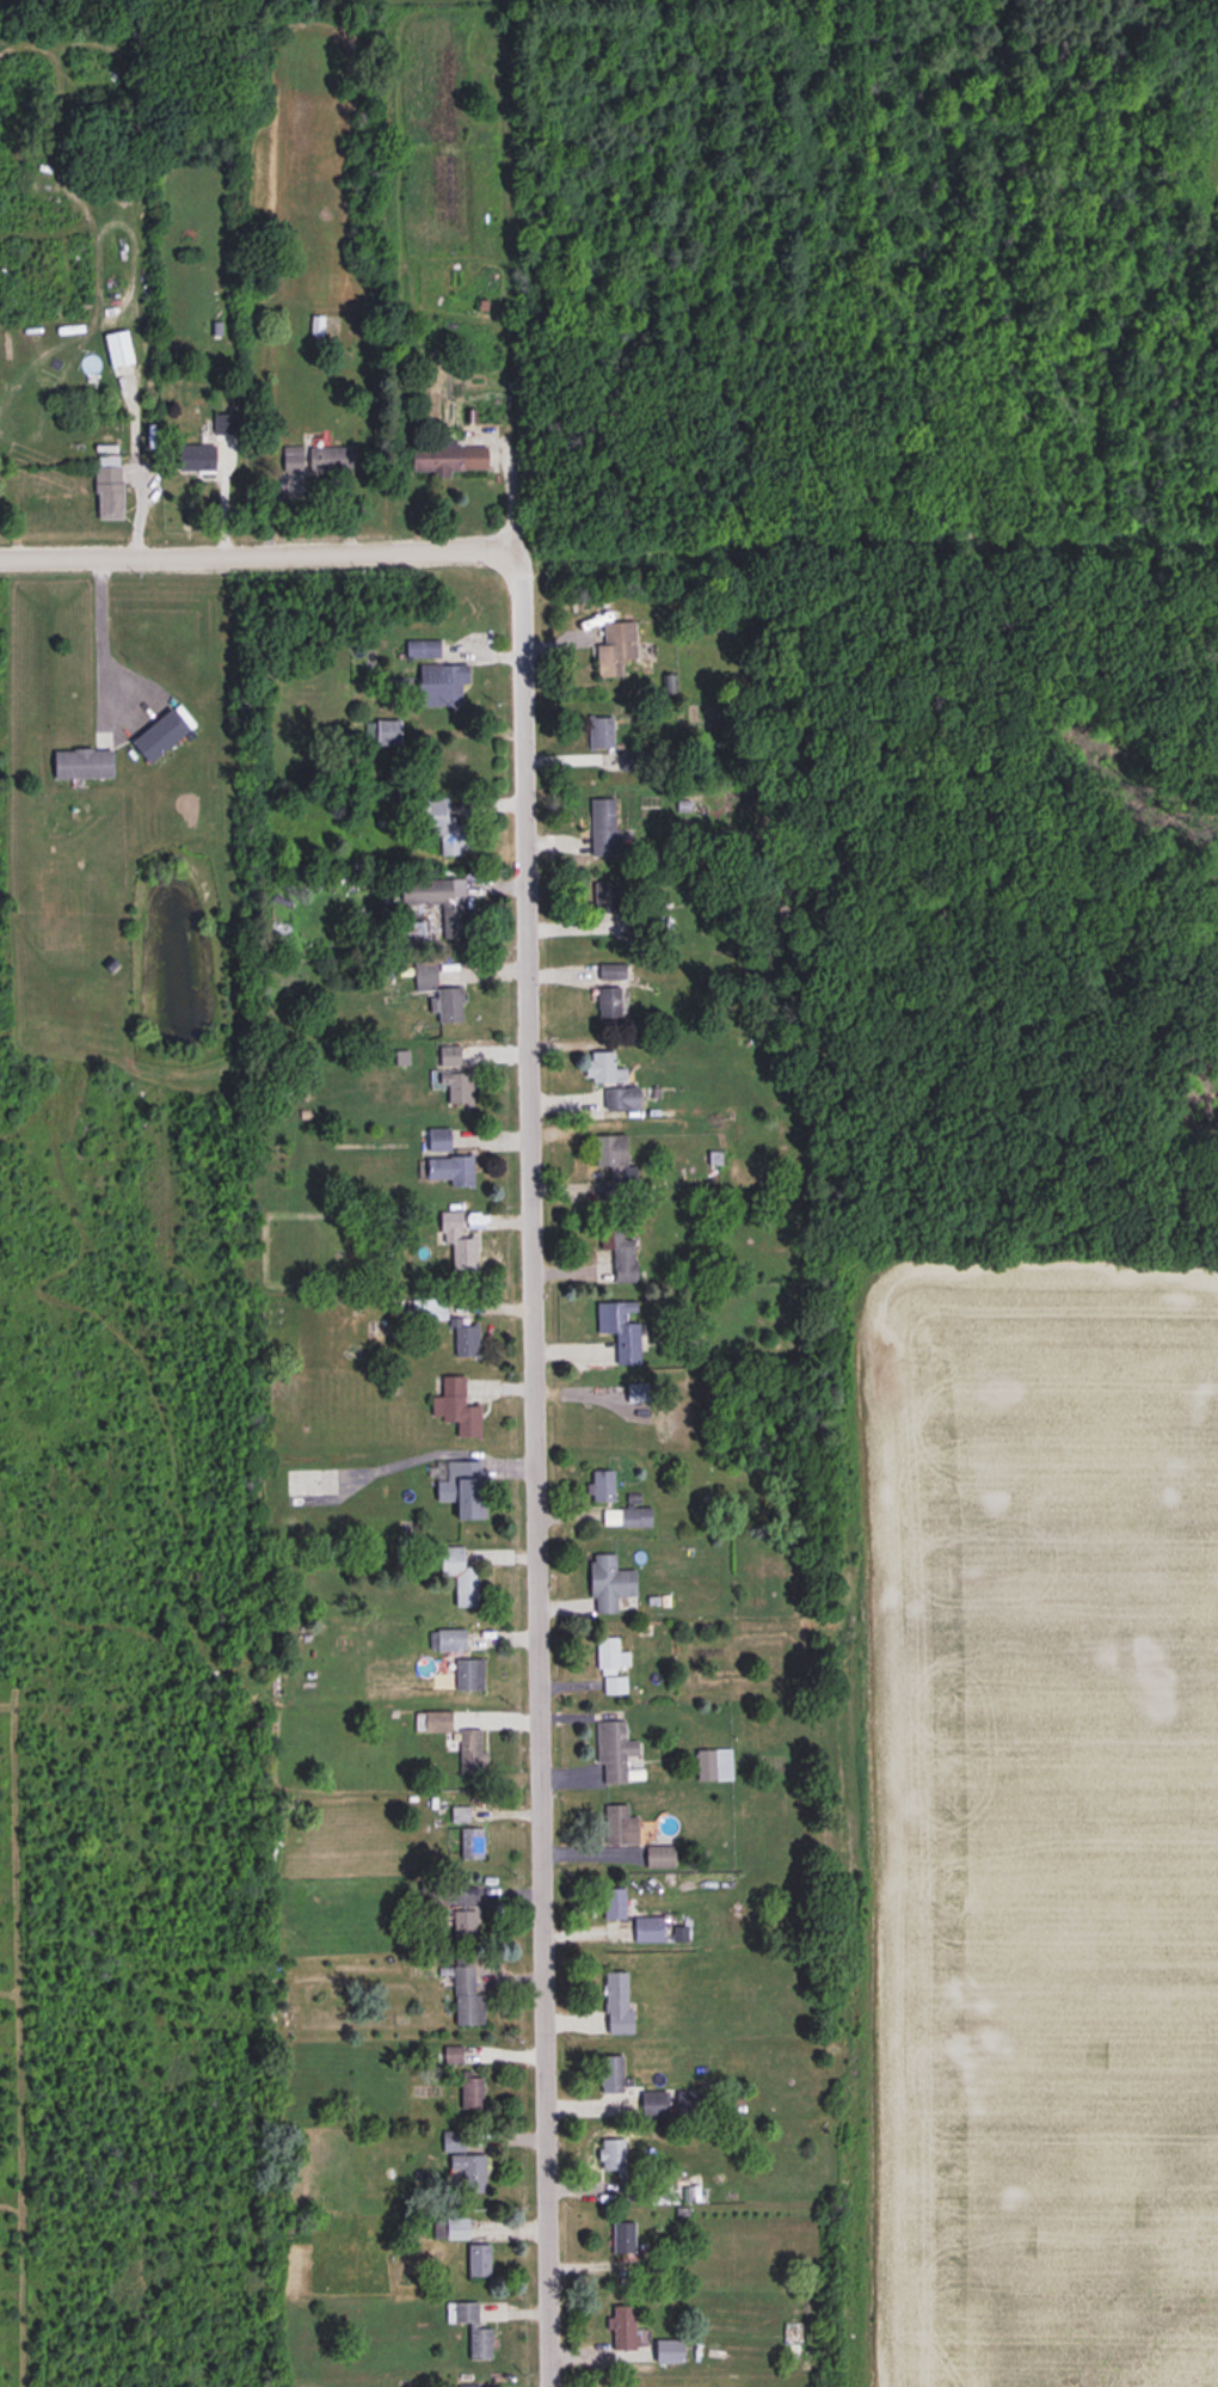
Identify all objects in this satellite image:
building: (119, 346)
building: (224, 423)
building: (453, 455)
building: (199, 456)
road: (135, 481)
building: (110, 485)
road: (309, 491)
road: (461, 546)
road: (195, 551)
road: (100, 630)
building: (417, 644)
building: (615, 649)
building: (435, 677)
building: (160, 735)
building: (85, 762)
building: (595, 814)
building: (436, 888)
building: (639, 928)
building: (610, 972)
building: (443, 1000)
building: (444, 1051)
building: (621, 1099)
building: (439, 1156)
building: (611, 1165)
building: (619, 1247)
building: (620, 1330)
building: (638, 1394)
building: (449, 1401)
road: (437, 1450)
road: (535, 1481)
building: (635, 1516)
building: (609, 1584)
building: (611, 1667)
building: (467, 1747)
building: (614, 1753)
building: (714, 1765)
building: (620, 1825)
building: (659, 1857)
building: (614, 1903)
building: (459, 1917)
building: (648, 1929)
building: (616, 2004)
building: (611, 2075)
building: (653, 2105)
building: (688, 2105)
building: (613, 2155)
building: (636, 2191)
building: (623, 2238)
building: (473, 2257)
building: (460, 2309)
building: (623, 2328)
building: (675, 2352)

